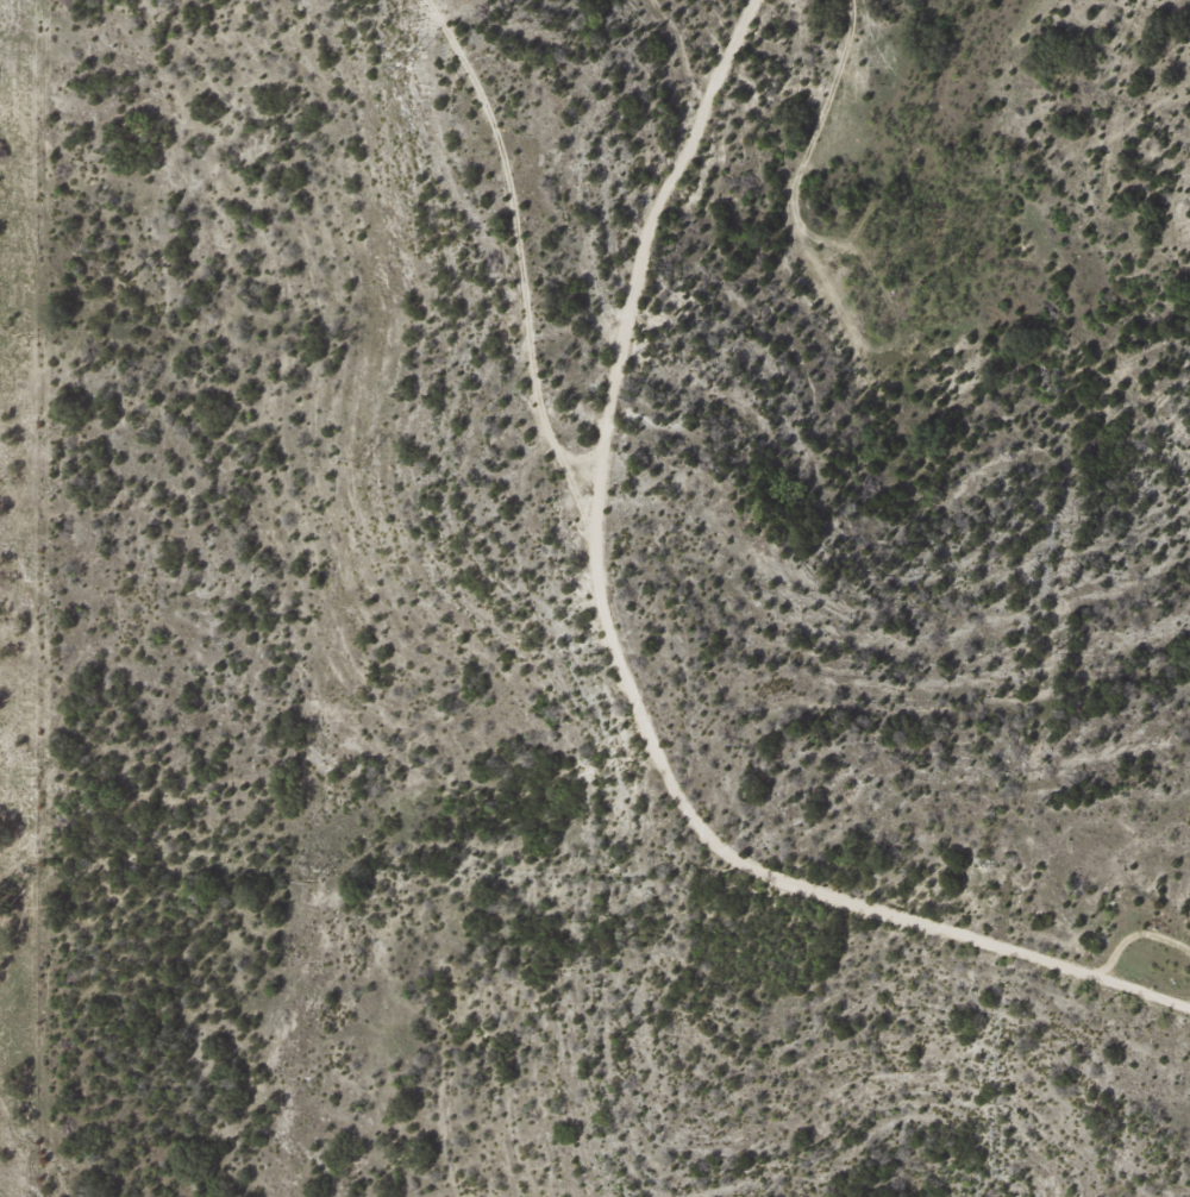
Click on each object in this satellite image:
power tower: (407, 65)
power tower: (363, 458)
road: (662, 637)
power tower: (318, 880)

